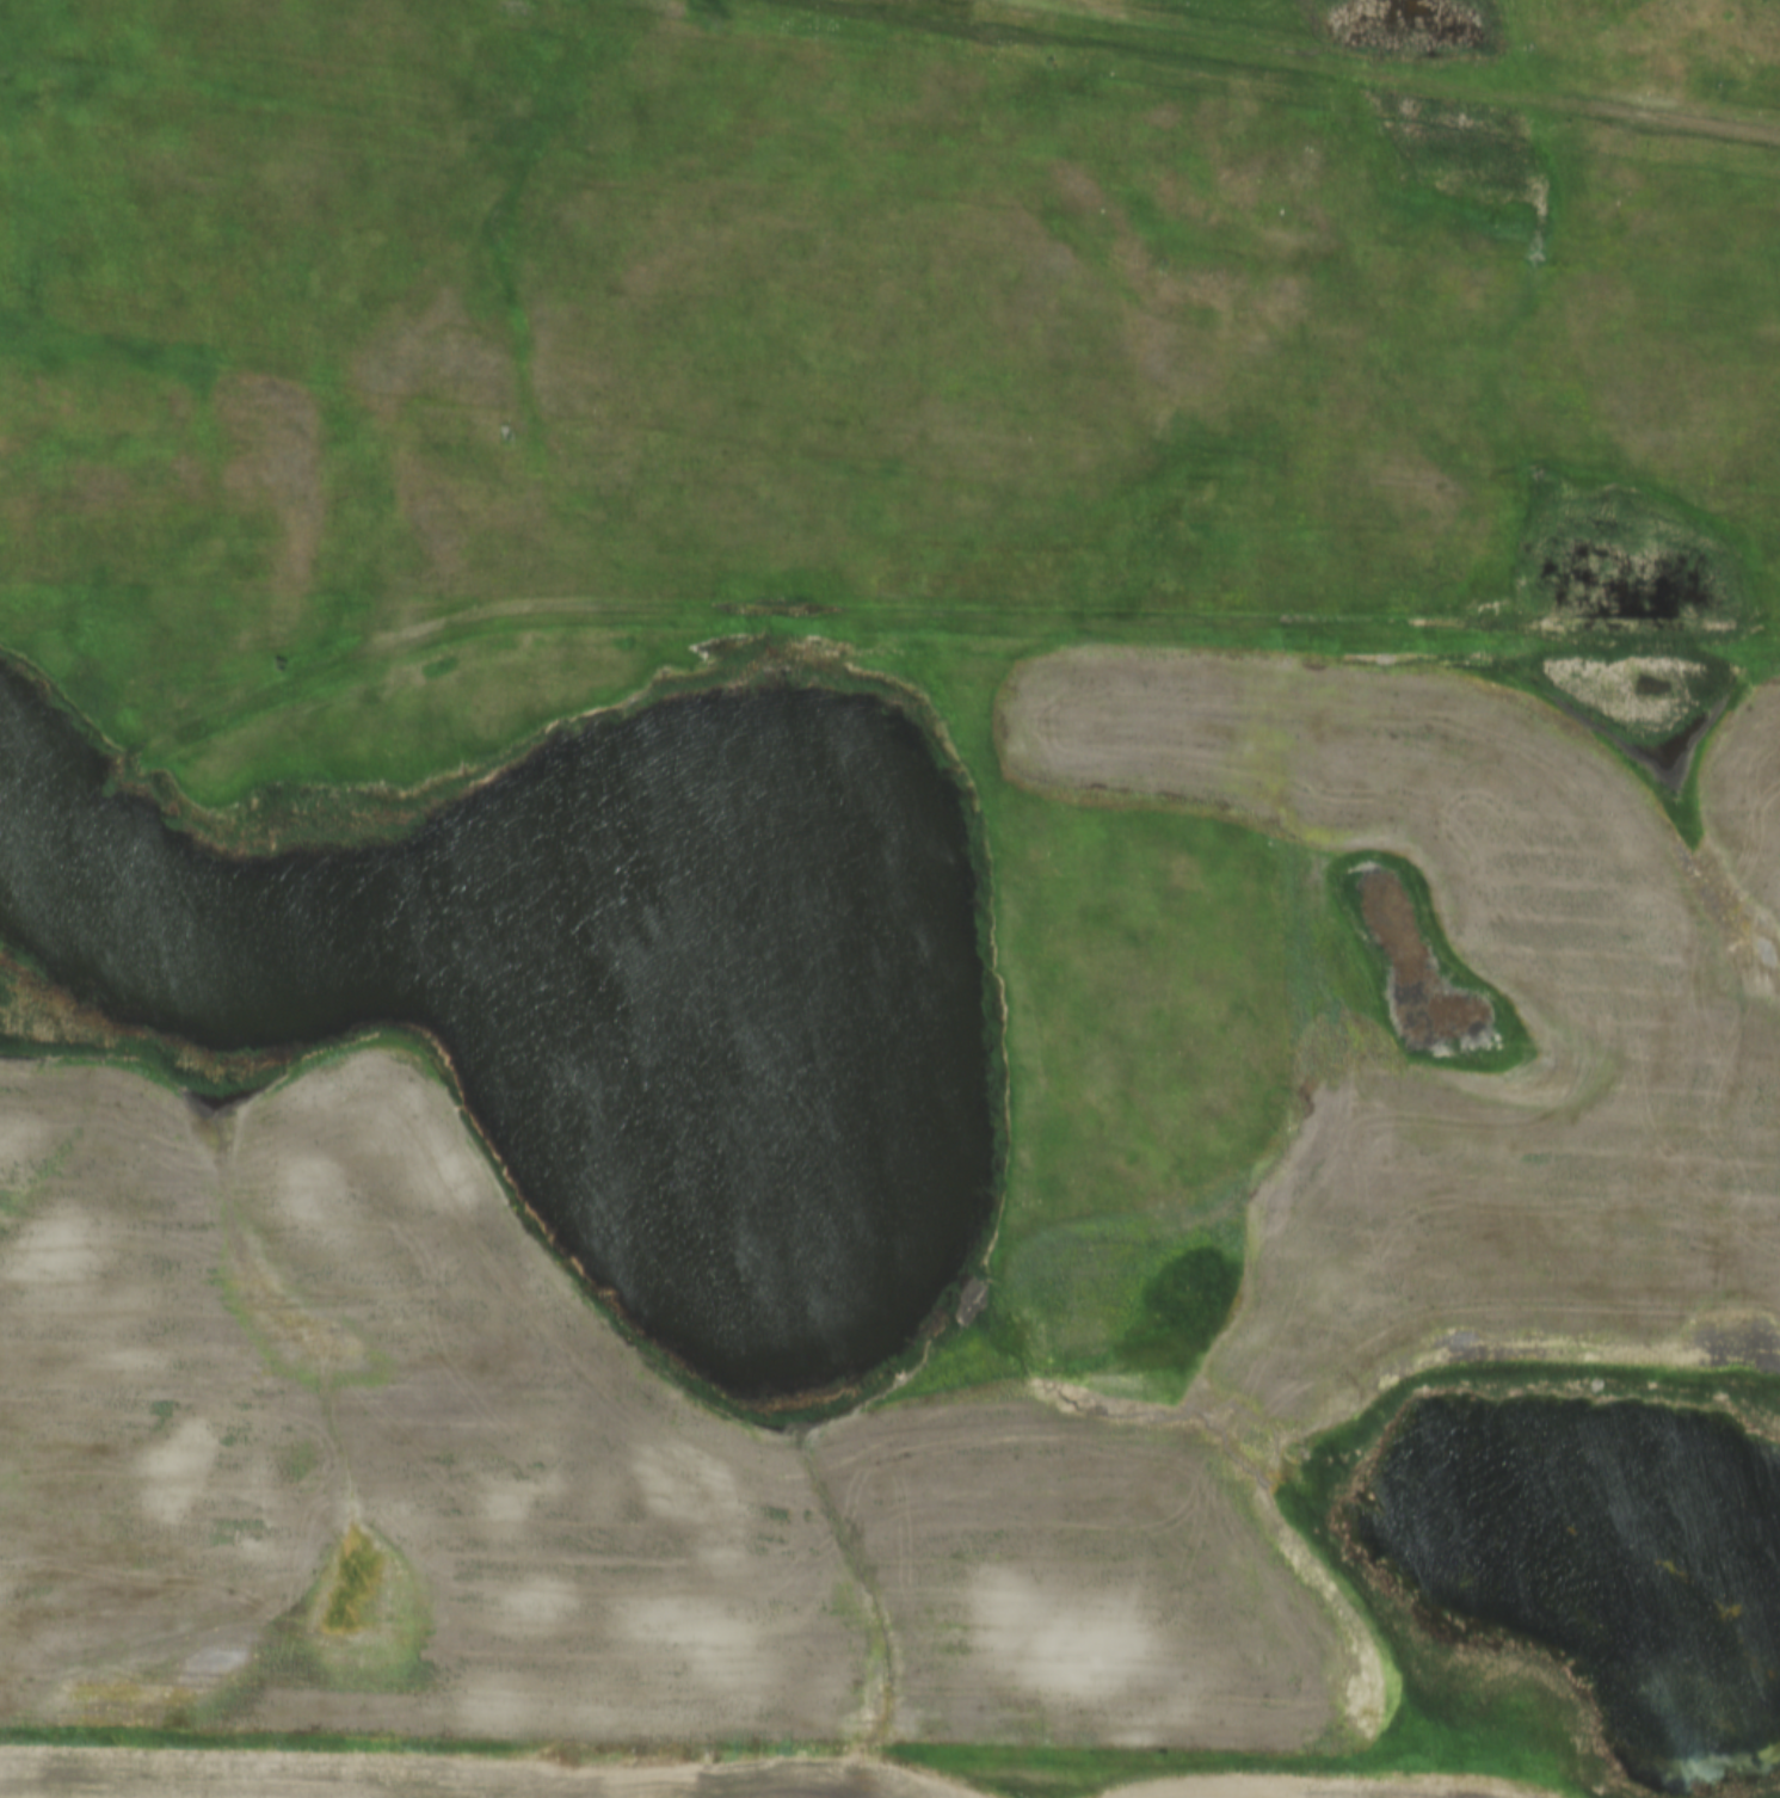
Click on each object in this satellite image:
road: (856, 636)

